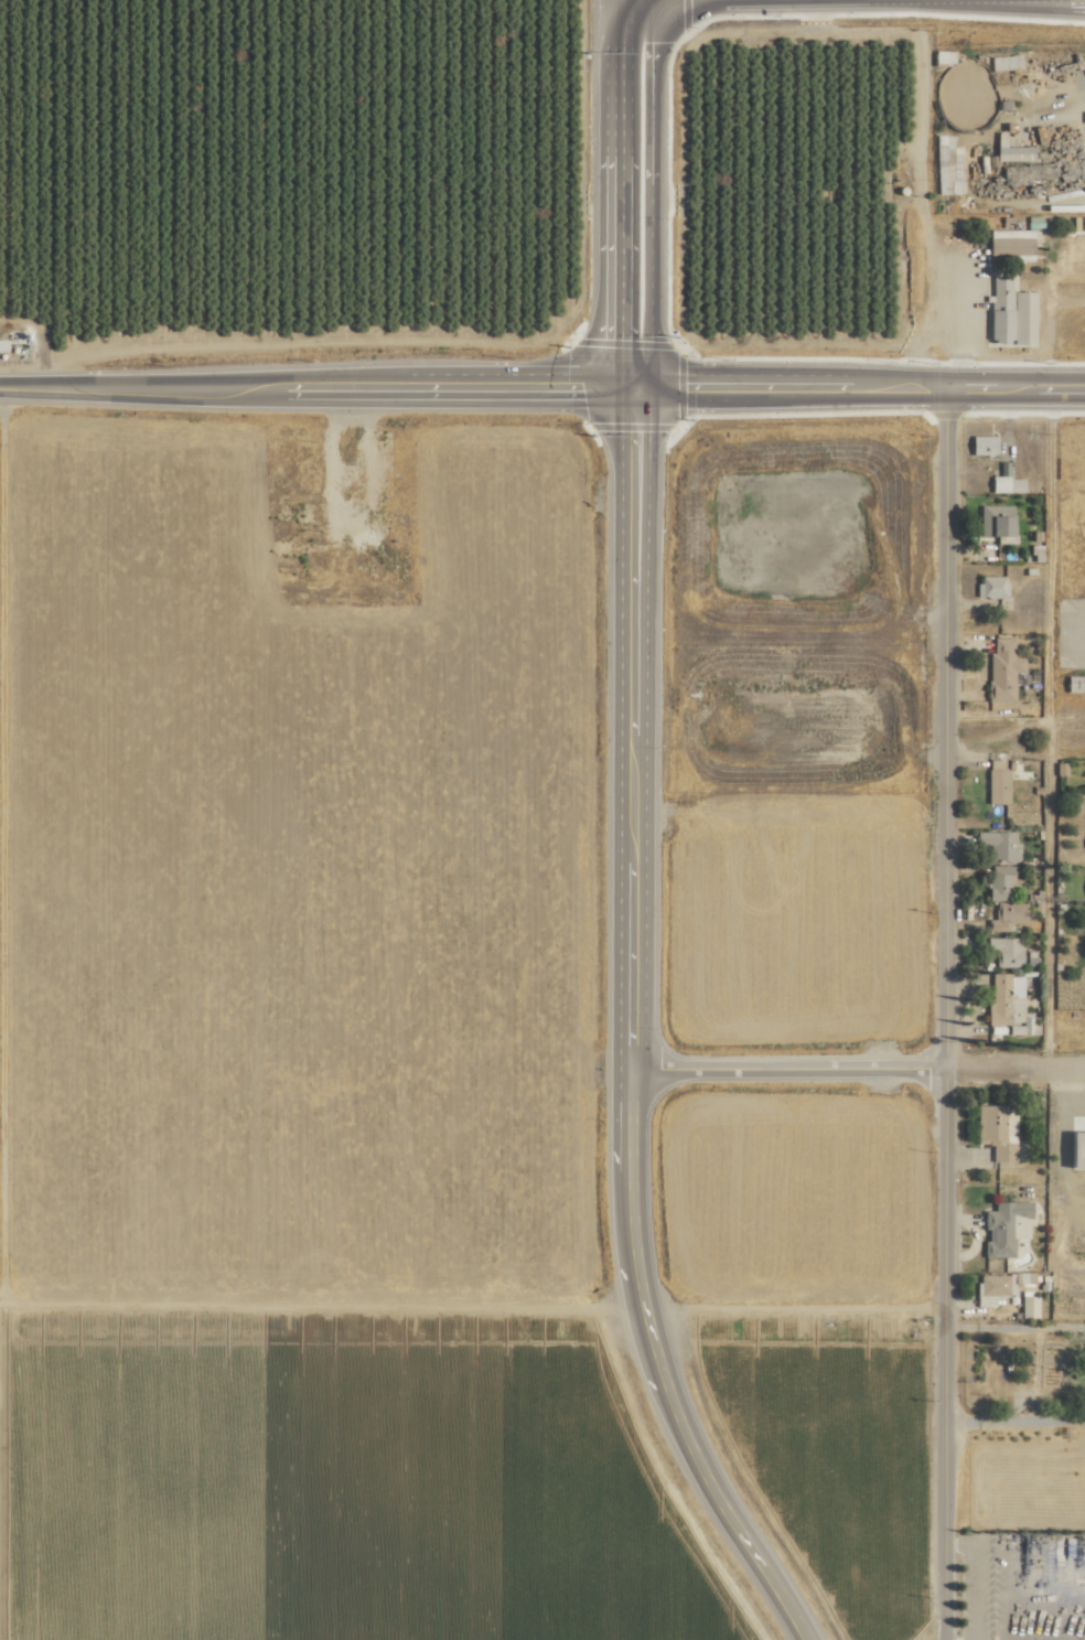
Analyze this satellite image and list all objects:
road: (1009, 6)
building: (1011, 152)
building: (945, 164)
road: (631, 192)
building: (1007, 242)
road: (941, 264)
building: (1007, 312)
road: (1048, 325)
road: (313, 384)
road: (787, 385)
road: (1016, 387)
building: (979, 443)
building: (278, 454)
building: (1003, 483)
building: (279, 506)
building: (992, 522)
building: (283, 546)
building: (394, 568)
building: (988, 586)
building: (999, 669)
road: (944, 728)
building: (993, 782)
building: (1083, 842)
building: (996, 844)
road: (1048, 844)
building: (996, 881)
building: (1003, 915)
building: (1003, 951)
building: (1005, 1000)
road: (626, 1028)
road: (784, 1069)
road: (1013, 1070)
building: (996, 1132)
building: (1073, 1149)
building: (1003, 1225)
building: (1008, 1289)
road: (789, 1309)
road: (1012, 1326)
road: (941, 1354)
road: (1012, 1419)
road: (974, 1578)

